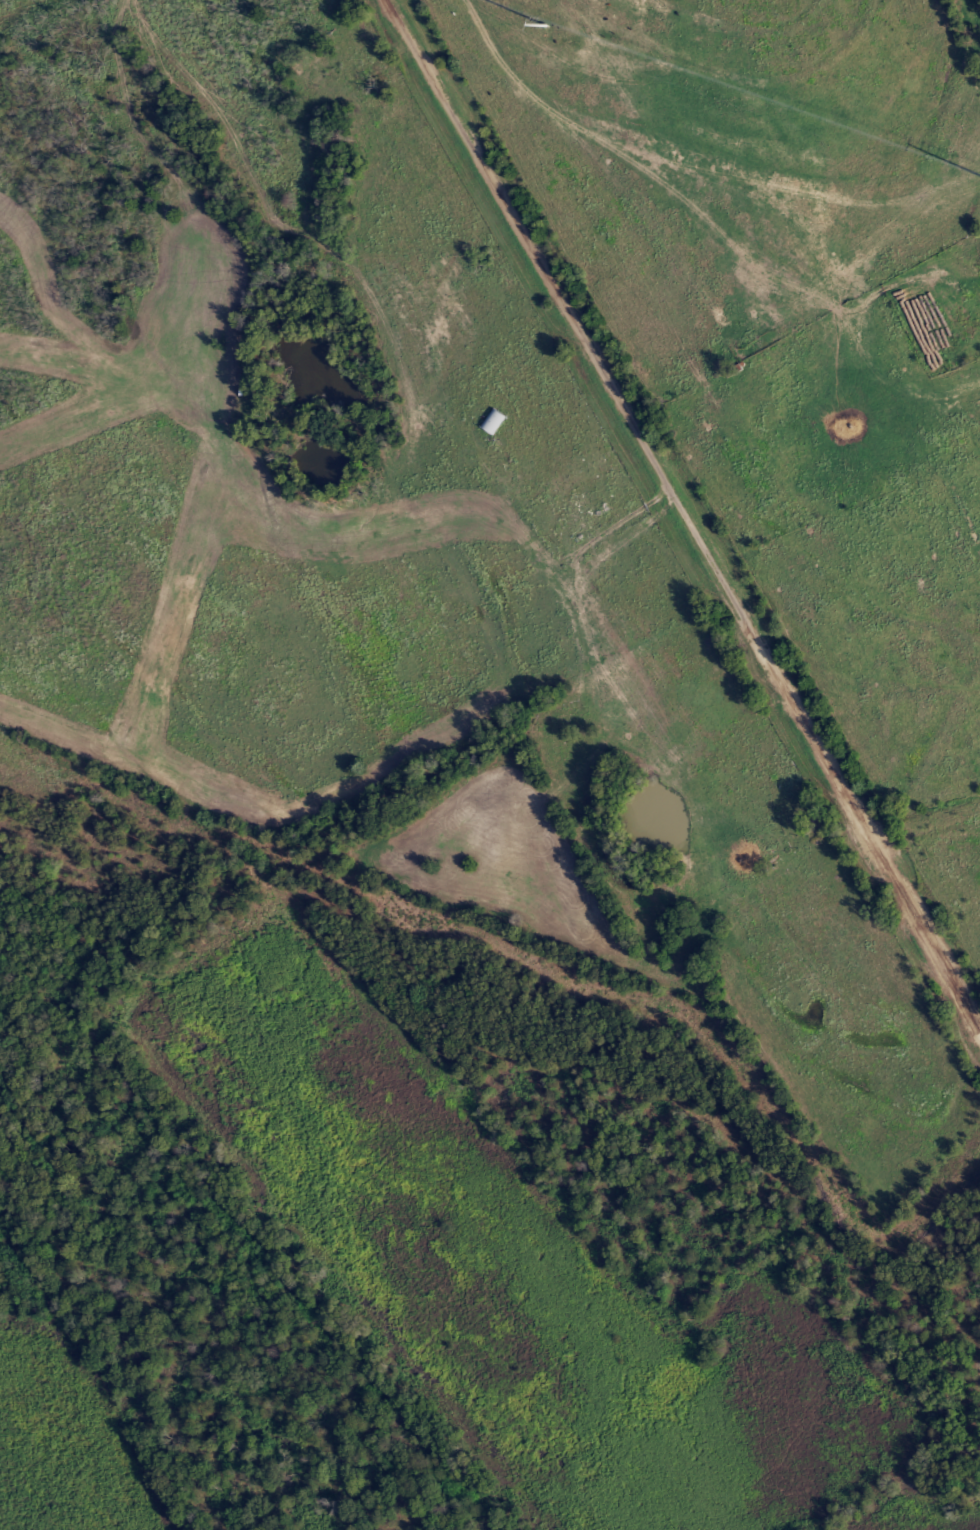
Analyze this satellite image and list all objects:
power tower: (545, 25)
road: (655, 166)
road: (630, 416)
building: (490, 422)
road: (925, 929)

